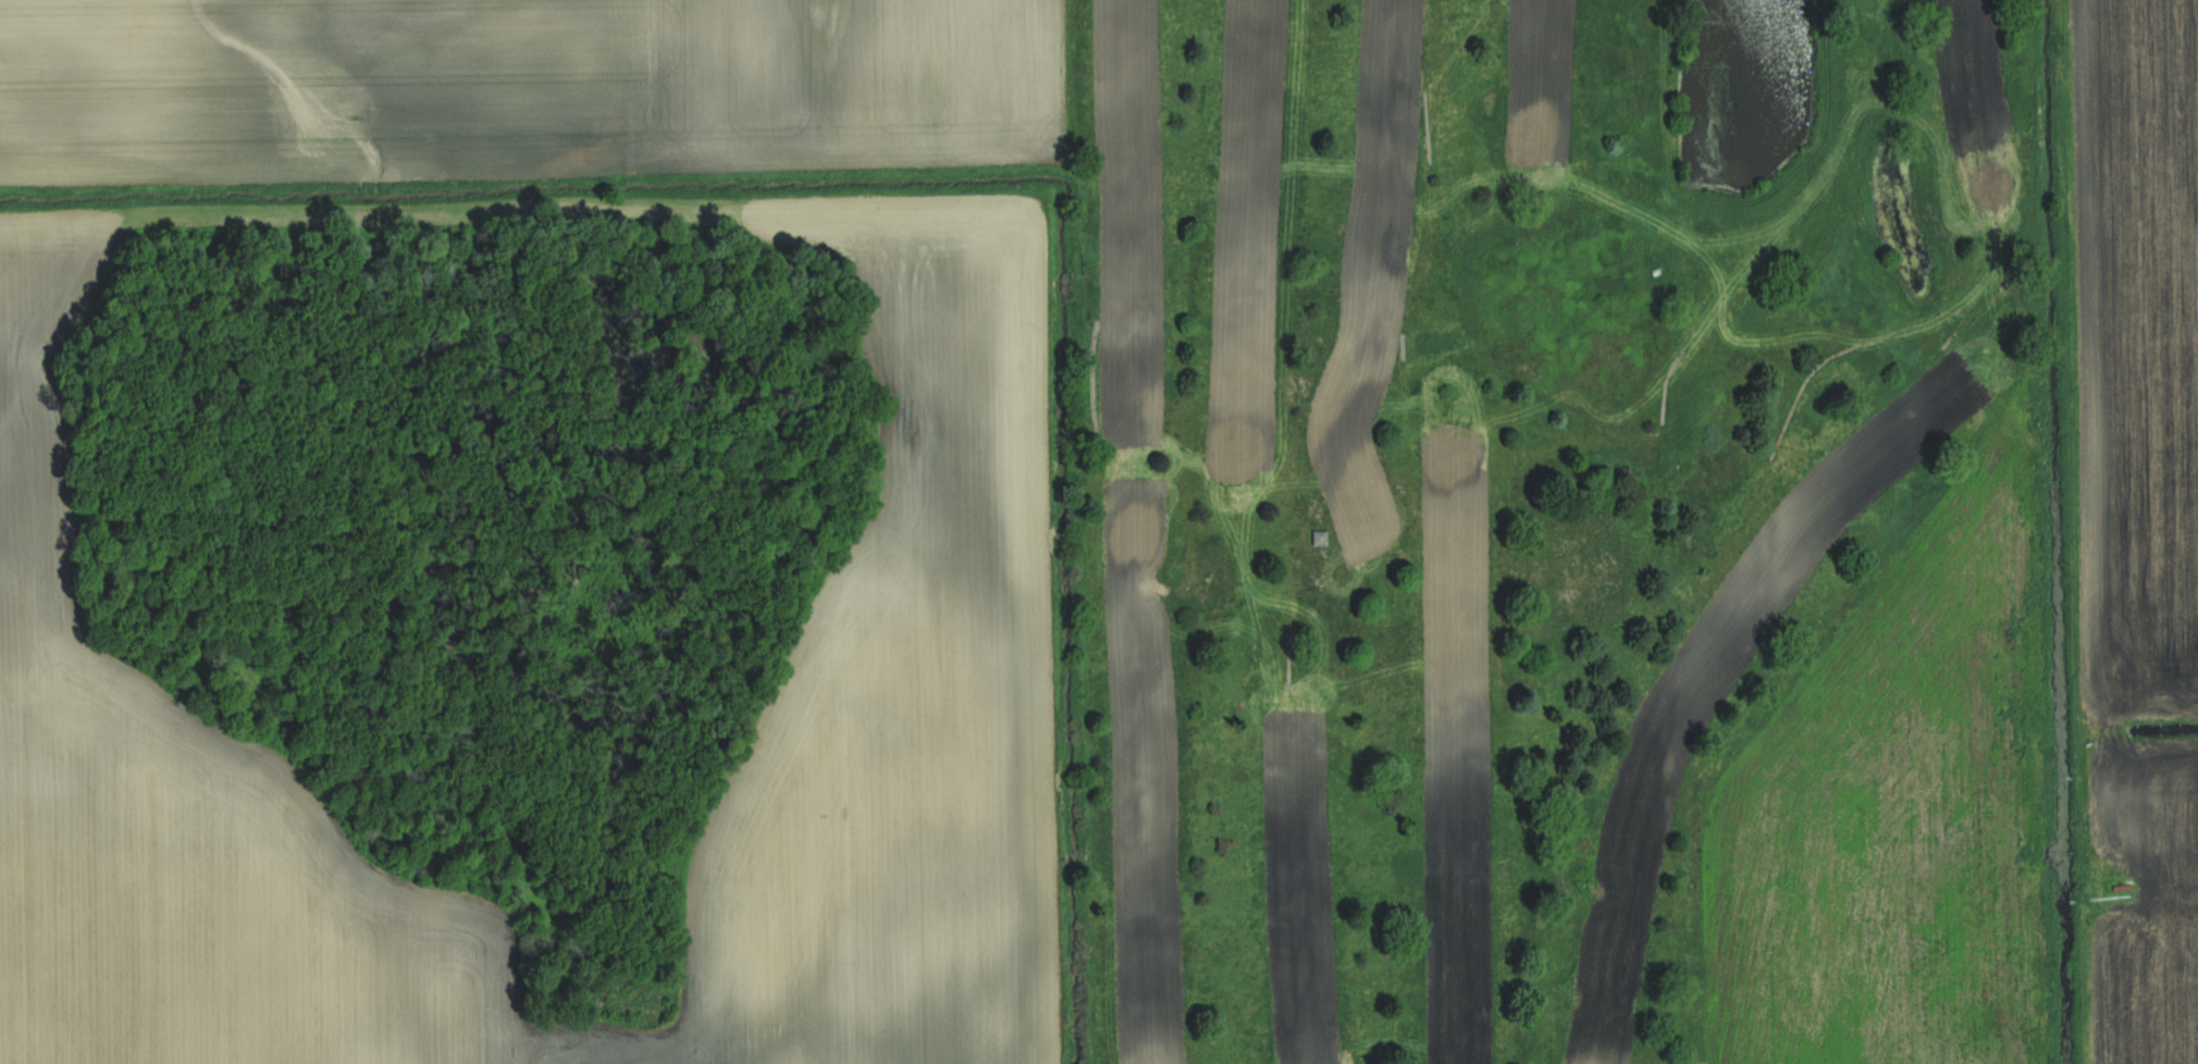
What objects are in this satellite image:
park: (1496, 478)

